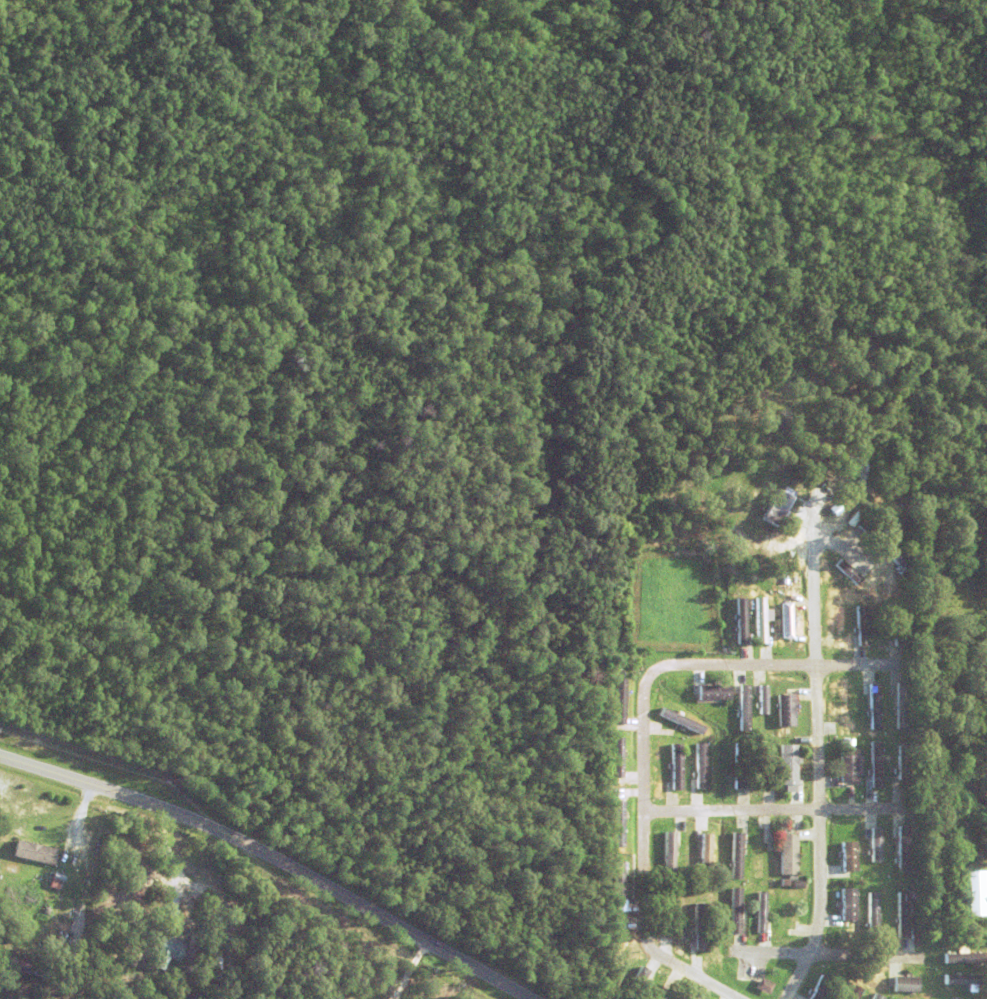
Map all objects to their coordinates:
building: (779, 504)
building: (875, 535)
building: (898, 567)
building: (849, 571)
building: (884, 586)
building: (742, 620)
building: (761, 620)
building: (788, 623)
building: (899, 623)
building: (843, 625)
building: (863, 625)
building: (714, 692)
building: (764, 699)
building: (620, 700)
building: (843, 705)
building: (901, 705)
building: (875, 706)
building: (744, 707)
building: (786, 710)
building: (681, 720)
building: (619, 756)
building: (765, 764)
building: (788, 764)
building: (850, 764)
building: (876, 764)
building: (739, 765)
building: (677, 766)
building: (700, 766)
building: (903, 766)
building: (666, 773)
building: (797, 797)
building: (619, 823)
building: (953, 843)
building: (876, 845)
building: (903, 849)
building: (34, 852)
building: (706, 853)
building: (789, 854)
building: (669, 855)
building: (737, 855)
building: (758, 855)
building: (850, 856)
road: (273, 857)
building: (793, 877)
building: (946, 879)
building: (56, 880)
building: (619, 880)
building: (785, 882)
building: (976, 892)
building: (850, 904)
building: (761, 909)
building: (736, 911)
building: (671, 912)
building: (214, 913)
building: (789, 914)
building: (902, 914)
building: (873, 915)
building: (700, 926)
building: (620, 945)
building: (147, 947)
building: (170, 950)
building: (215, 957)
building: (965, 958)
building: (30, 969)
building: (620, 973)
building: (965, 979)
building: (637, 983)
building: (906, 984)
building: (765, 986)
building: (822, 988)
building: (854, 992)
building: (670, 995)
building: (878, 997)

